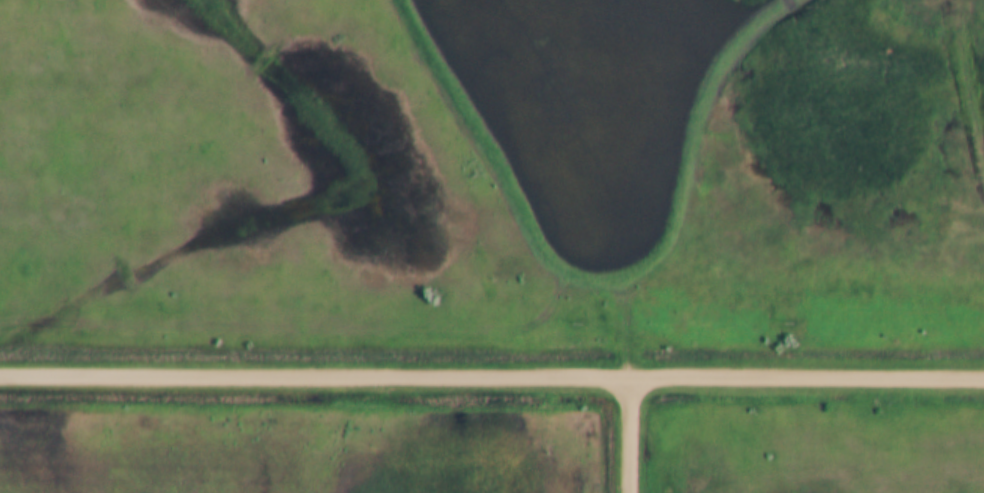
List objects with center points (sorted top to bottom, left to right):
road: (491, 379)
road: (633, 436)

